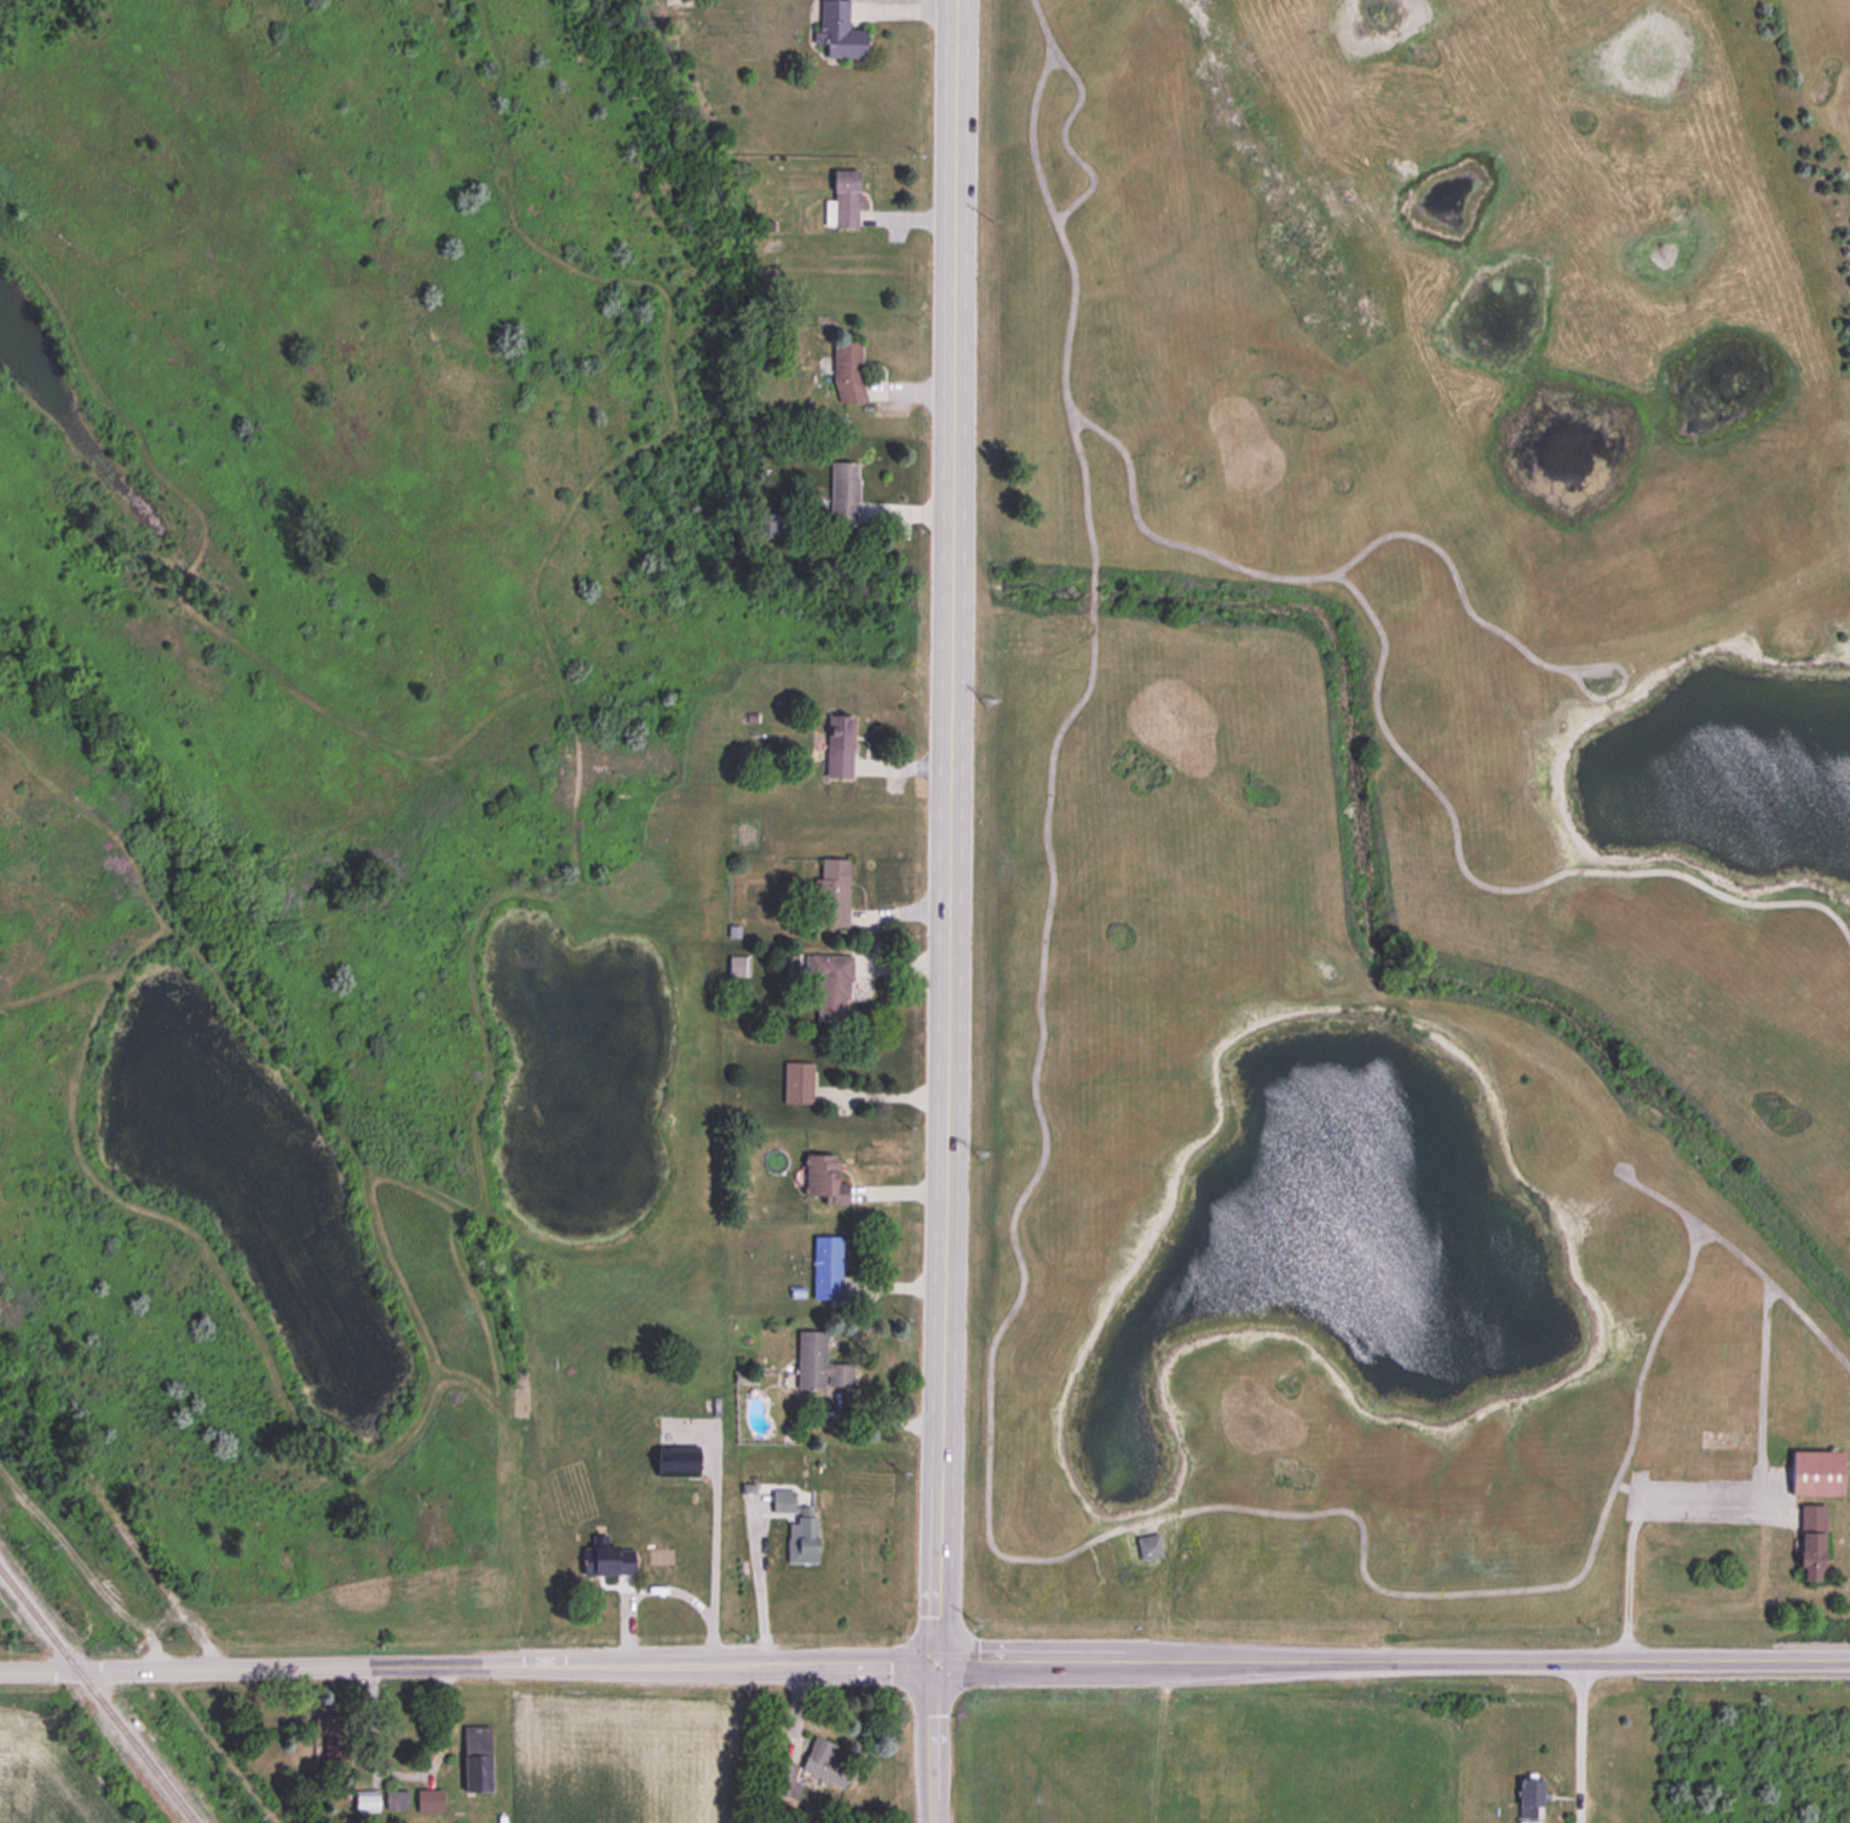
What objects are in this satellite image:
building: (837, 30)
building: (842, 200)
power tower: (992, 223)
building: (847, 371)
building: (842, 491)
building: (776, 524)
power tower: (982, 704)
building: (837, 745)
road: (946, 831)
building: (830, 894)
building: (733, 930)
building: (736, 965)
building: (829, 982)
building: (796, 1083)
power tower: (975, 1155)
building: (823, 1179)
building: (825, 1268)
building: (818, 1362)
building: (744, 1378)
building: (679, 1461)
building: (1815, 1475)
building: (748, 1488)
building: (782, 1501)
road: (115, 1517)
building: (801, 1539)
road: (714, 1544)
building: (1810, 1545)
building: (1149, 1548)
building: (606, 1558)
road: (759, 1585)
road: (692, 1599)
road: (627, 1625)
road: (1394, 1662)
road: (468, 1668)
railway: (97, 1697)
building: (334, 1736)
road: (938, 1743)
building: (476, 1759)
building: (824, 1763)
building: (782, 1779)
building: (1529, 1800)
building: (396, 1801)
building: (367, 1802)
building: (428, 1802)

